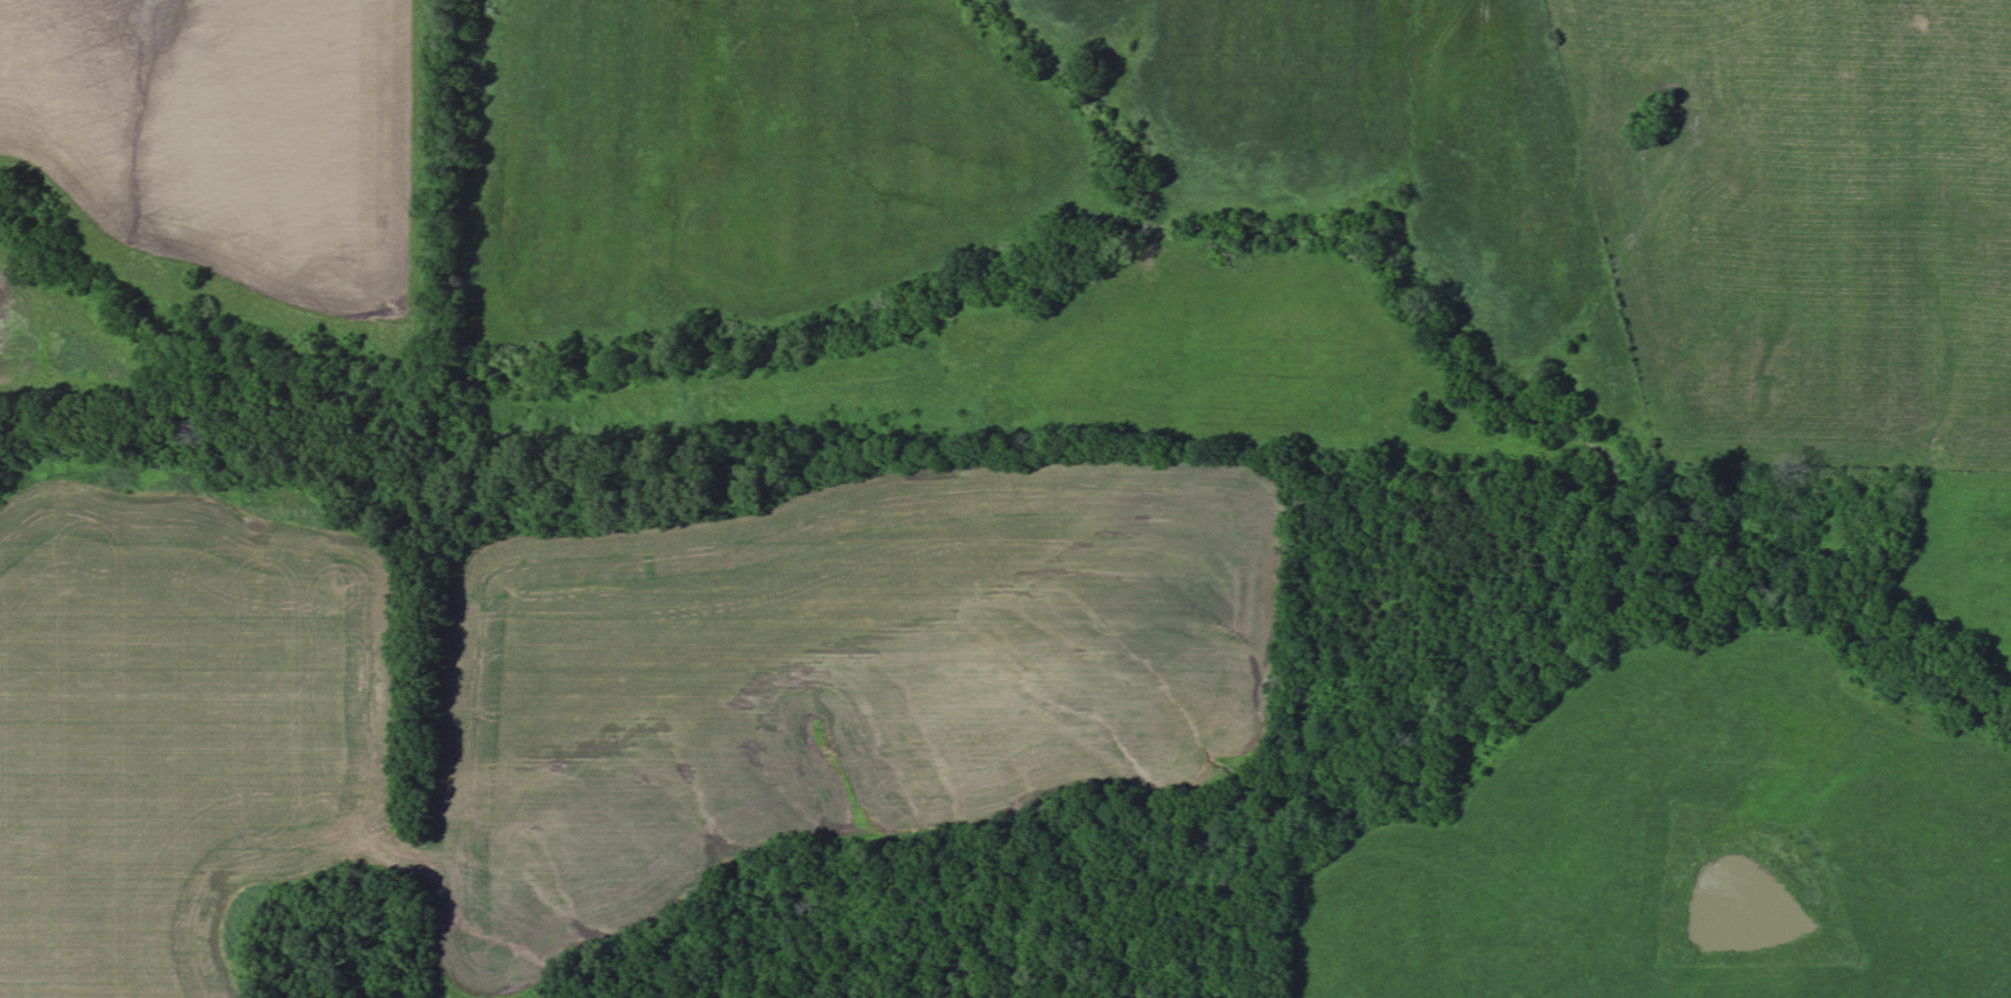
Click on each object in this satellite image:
crop: (235, 149)
crop: (824, 681)
crop: (177, 729)

